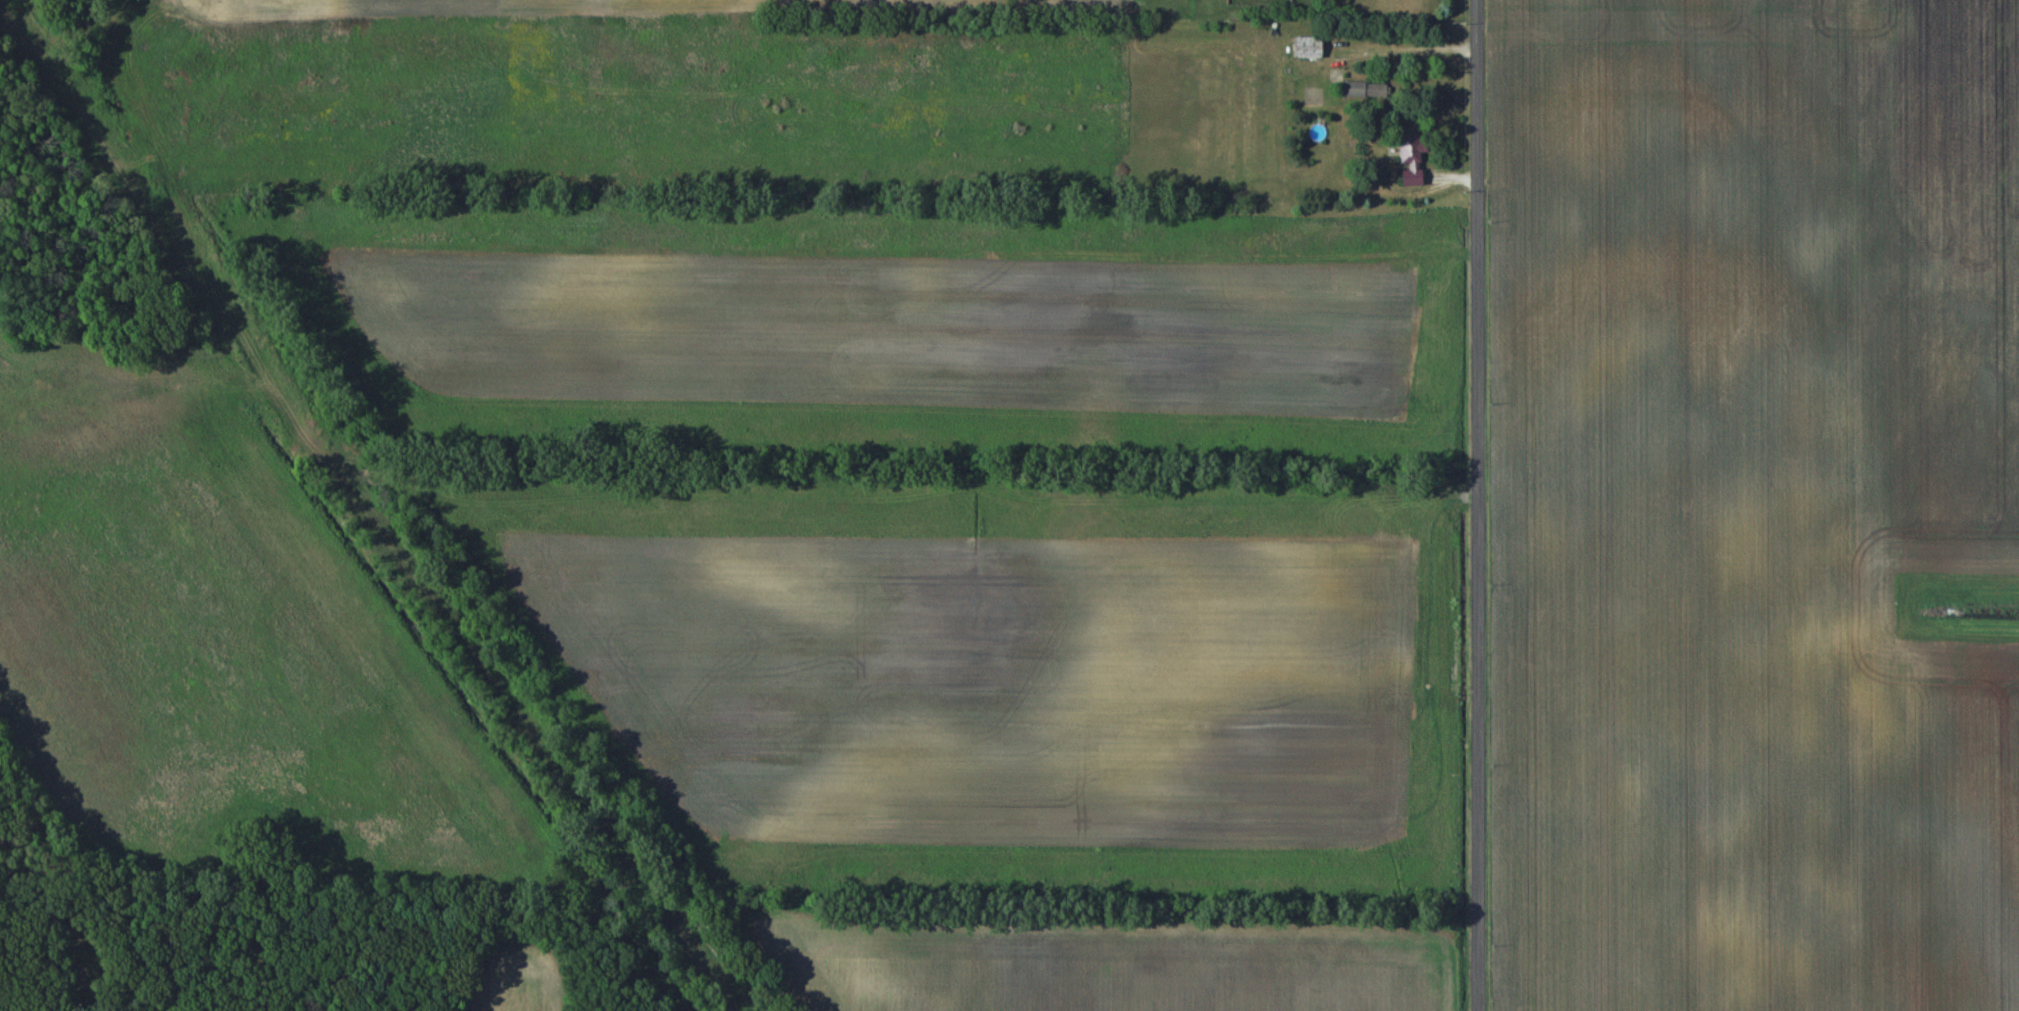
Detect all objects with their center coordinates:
road: (1414, 44)
building: (1304, 47)
building: (1363, 90)
building: (1407, 159)
road: (1479, 505)

